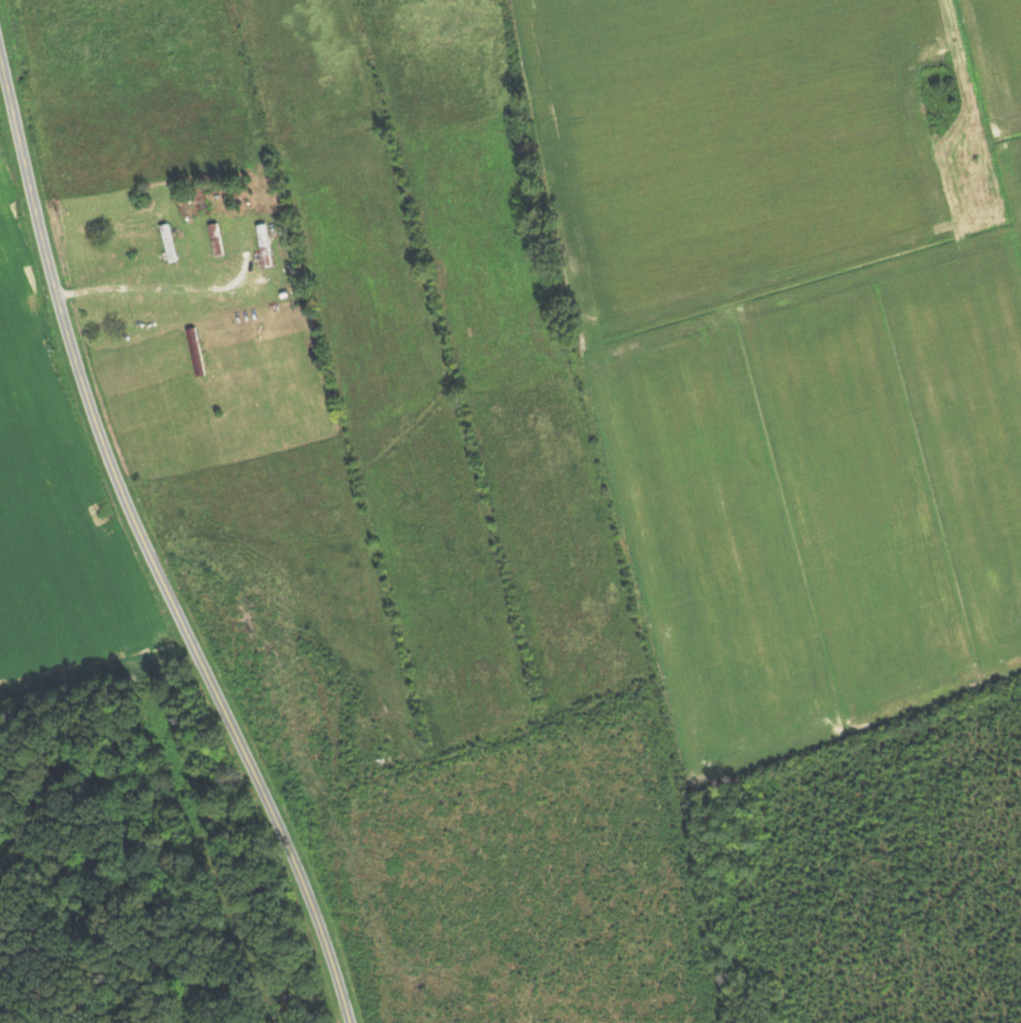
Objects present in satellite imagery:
building: (218, 240)
building: (267, 246)
building: (173, 248)
road: (142, 549)

